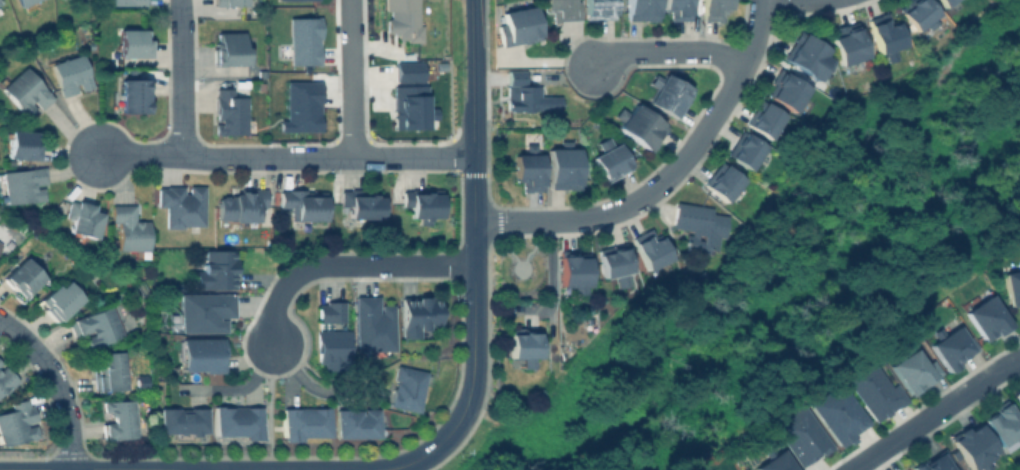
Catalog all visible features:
building: (291, 0)
road: (470, 0)
building: (0, 1)
road: (789, 1)
building: (21, 2)
building: (123, 2)
building: (225, 2)
building: (943, 2)
building: (595, 8)
building: (559, 9)
building: (675, 9)
building: (712, 9)
building: (640, 10)
building: (916, 13)
building: (402, 19)
building: (516, 25)
road: (755, 34)
building: (883, 35)
building: (303, 40)
building: (129, 43)
building: (845, 43)
building: (228, 49)
road: (665, 52)
building: (805, 55)
building: (67, 74)
road: (182, 76)
building: (512, 77)
road: (351, 78)
road: (472, 78)
building: (785, 90)
building: (22, 91)
building: (129, 94)
building: (665, 95)
building: (408, 97)
building: (526, 99)
building: (300, 106)
building: (226, 112)
building: (762, 119)
building: (637, 126)
building: (25, 145)
building: (742, 150)
road: (182, 154)
road: (370, 156)
building: (606, 160)
building: (560, 167)
building: (526, 169)
building: (720, 179)
building: (20, 182)
road: (640, 199)
building: (302, 201)
building: (360, 201)
building: (421, 202)
building: (179, 203)
building: (239, 205)
building: (81, 219)
building: (696, 224)
building: (127, 228)
building: (0, 246)
building: (649, 247)
building: (612, 262)
road: (344, 264)
building: (215, 267)
building: (571, 268)
building: (18, 273)
road: (550, 277)
building: (1011, 283)
building: (60, 298)
road: (474, 298)
building: (202, 309)
building: (327, 309)
building: (415, 312)
building: (985, 315)
building: (370, 322)
building: (93, 324)
building: (328, 343)
building: (521, 344)
building: (950, 345)
building: (199, 352)
building: (108, 369)
building: (913, 369)
building: (5, 379)
road: (57, 383)
building: (404, 386)
building: (873, 388)
building: (1016, 393)
building: (838, 412)
road: (933, 412)
building: (119, 417)
building: (179, 419)
building: (233, 419)
building: (300, 420)
building: (15, 421)
building: (355, 421)
building: (1001, 421)
building: (800, 433)
building: (973, 446)
building: (772, 460)
building: (931, 461)
road: (104, 469)
road: (332, 469)

